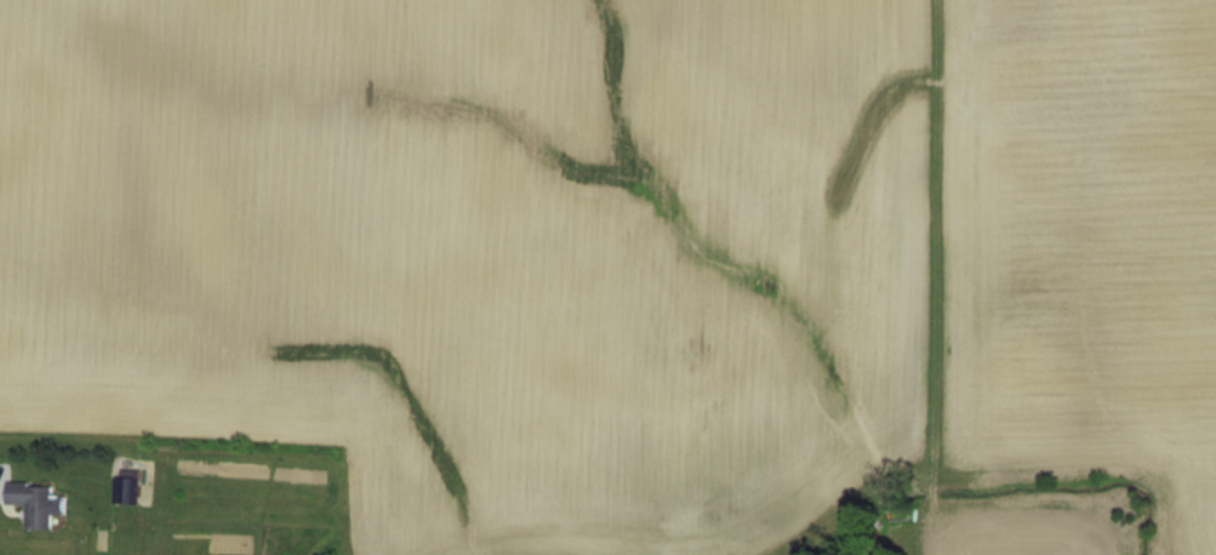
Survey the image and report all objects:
building: (130, 486)
building: (36, 503)

